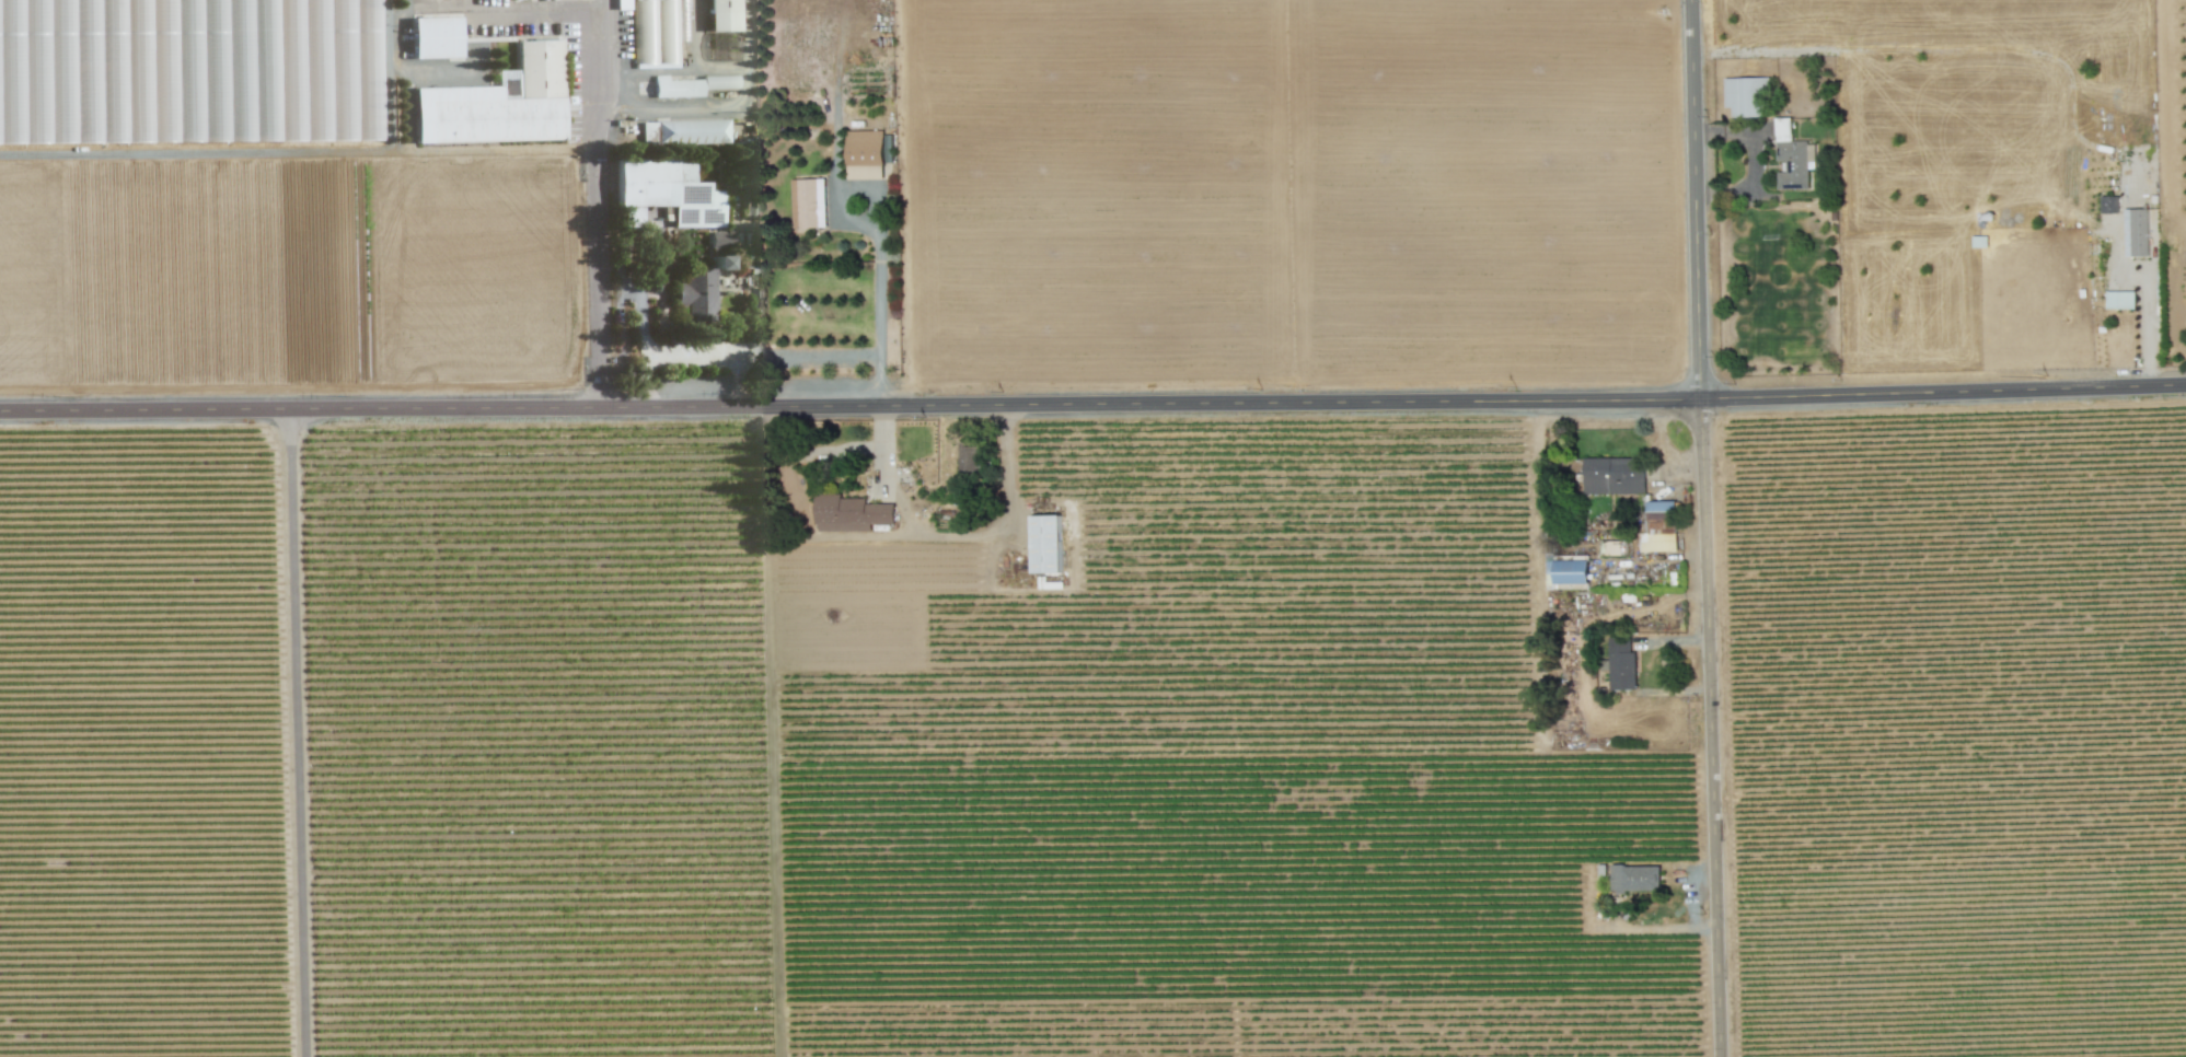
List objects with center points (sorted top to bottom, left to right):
building: (721, 15)
building: (435, 37)
building: (719, 82)
building: (675, 88)
building: (1746, 97)
building: (497, 103)
building: (683, 133)
building: (864, 154)
building: (1792, 158)
building: (664, 193)
building: (806, 201)
road: (600, 204)
building: (2108, 205)
building: (2136, 233)
building: (721, 240)
building: (698, 291)
road: (879, 300)
building: (2119, 300)
road: (2148, 329)
road: (721, 353)
road: (1092, 403)
road: (811, 446)
building: (968, 456)
building: (1614, 476)
building: (849, 513)
road: (950, 526)
building: (1658, 527)
road: (1711, 527)
building: (1045, 544)
building: (1621, 664)
road: (302, 733)
building: (1635, 879)

